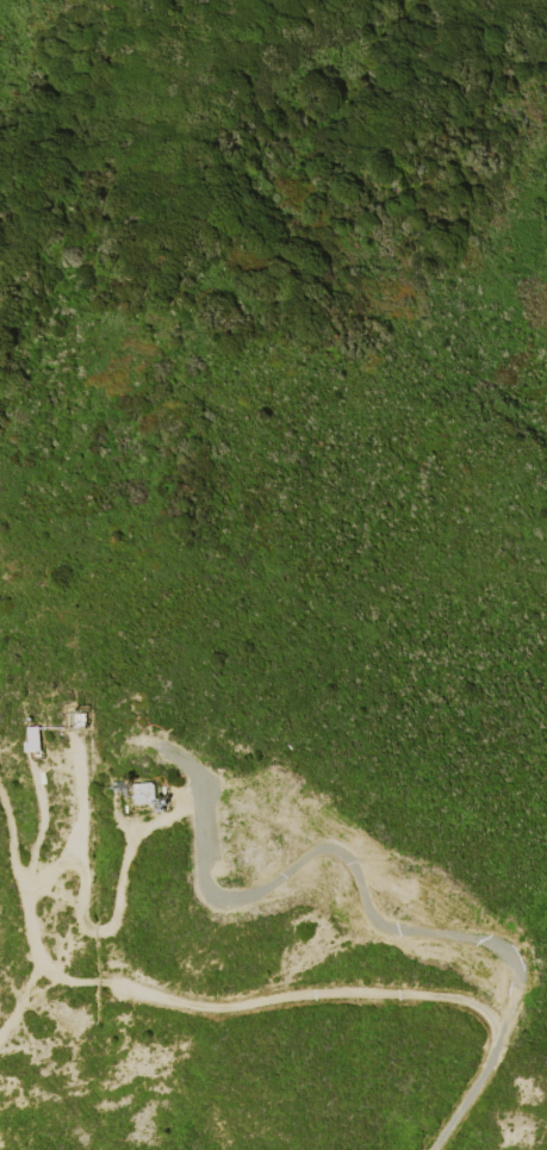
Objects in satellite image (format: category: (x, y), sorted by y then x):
road: (80, 797)
road: (41, 818)
road: (145, 826)
road: (45, 877)
road: (36, 949)
road: (367, 993)
road: (23, 994)
park: (48, 1019)

